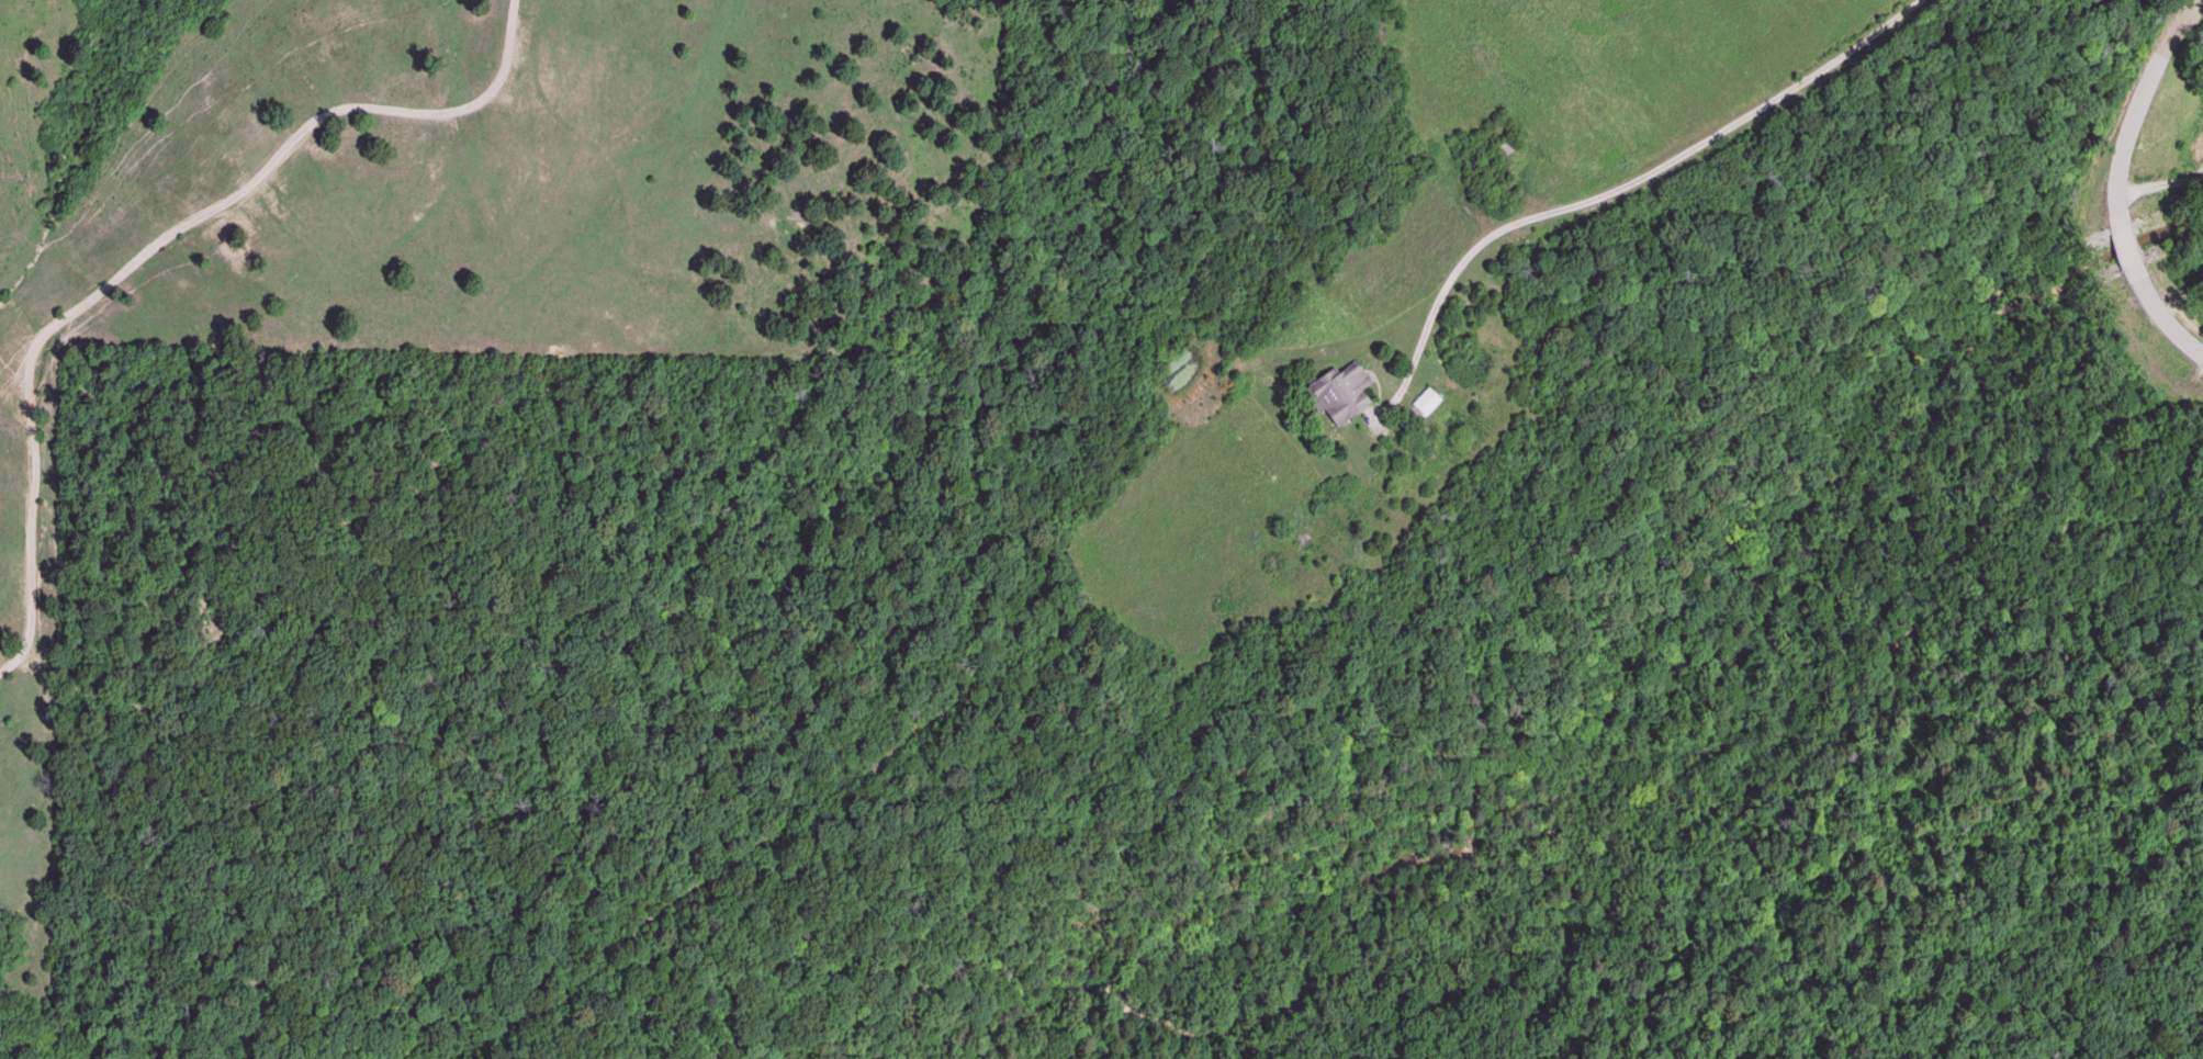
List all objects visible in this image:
road: (2139, 99)
road: (1636, 180)
road: (2124, 247)
road: (153, 249)
road: (2165, 322)
building: (1339, 392)
building: (1424, 401)

